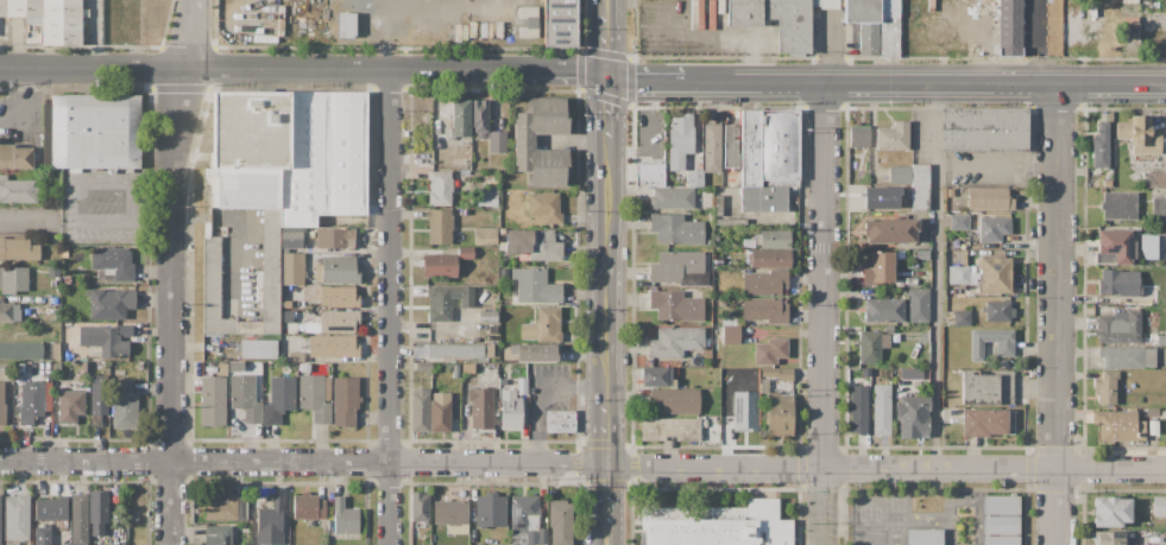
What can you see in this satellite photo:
road: (610, 5)
building: (830, 5)
road: (395, 6)
building: (720, 6)
building: (945, 7)
building: (2, 8)
building: (24, 8)
building: (711, 13)
building: (697, 14)
building: (527, 21)
building: (61, 23)
building: (864, 23)
building: (559, 24)
building: (346, 26)
building: (996, 26)
building: (397, 28)
building: (889, 28)
building: (793, 39)
road: (610, 43)
road: (264, 70)
road: (569, 71)
road: (649, 82)
road: (926, 82)
road: (29, 103)
road: (610, 110)
building: (479, 116)
building: (460, 118)
building: (983, 129)
building: (92, 131)
road: (645, 134)
building: (893, 137)
building: (1140, 137)
building: (859, 138)
building: (680, 139)
building: (496, 141)
building: (543, 141)
building: (1099, 146)
building: (711, 147)
building: (769, 147)
building: (729, 148)
building: (288, 153)
building: (14, 157)
road: (995, 163)
building: (649, 175)
building: (861, 176)
building: (694, 178)
building: (1155, 179)
building: (914, 183)
building: (1107, 183)
building: (440, 188)
building: (17, 190)
building: (724, 191)
building: (950, 192)
building: (881, 197)
building: (490, 198)
building: (672, 198)
building: (989, 199)
road: (78, 201)
building: (1118, 205)
building: (544, 207)
building: (1159, 207)
building: (737, 214)
building: (959, 222)
road: (240, 226)
building: (439, 226)
building: (992, 228)
building: (676, 229)
building: (891, 230)
building: (485, 236)
building: (290, 237)
building: (335, 237)
building: (716, 239)
building: (55, 240)
building: (774, 240)
building: (707, 242)
building: (748, 243)
building: (534, 245)
building: (1115, 247)
building: (18, 249)
building: (1152, 252)
building: (465, 253)
building: (924, 254)
building: (770, 258)
building: (113, 262)
building: (439, 265)
building: (679, 267)
building: (292, 268)
building: (878, 268)
building: (53, 271)
road: (170, 271)
building: (336, 271)
road: (609, 271)
building: (502, 272)
building: (960, 274)
building: (994, 274)
road: (935, 275)
building: (267, 277)
building: (13, 279)
building: (764, 283)
building: (1118, 283)
building: (535, 286)
building: (213, 289)
building: (339, 297)
building: (446, 300)
building: (111, 304)
building: (675, 305)
building: (918, 305)
road: (387, 306)
building: (764, 310)
building: (882, 310)
building: (997, 311)
building: (11, 312)
road: (825, 312)
road: (1055, 313)
building: (486, 317)
building: (962, 317)
building: (338, 321)
building: (542, 325)
building: (1118, 328)
building: (731, 334)
building: (1148, 338)
building: (105, 340)
building: (1161, 340)
building: (675, 342)
building: (333, 347)
building: (869, 347)
building: (257, 348)
building: (20, 350)
building: (455, 350)
building: (489, 350)
building: (1003, 350)
building: (55, 351)
building: (770, 351)
building: (537, 353)
building: (1127, 356)
building: (296, 357)
building: (426, 367)
building: (456, 370)
building: (777, 373)
building: (910, 373)
building: (656, 376)
building: (758, 384)
building: (522, 386)
building: (1105, 387)
building: (987, 388)
building: (245, 397)
building: (316, 397)
building: (96, 398)
building: (279, 399)
building: (71, 400)
building: (345, 400)
building: (675, 400)
building: (31, 401)
building: (212, 401)
building: (2, 403)
building: (124, 405)
building: (480, 408)
building: (858, 408)
building: (881, 408)
building: (420, 410)
building: (510, 410)
building: (742, 411)
building: (440, 412)
building: (780, 414)
building: (913, 417)
building: (559, 422)
building: (987, 422)
building: (1118, 426)
building: (672, 429)
road: (609, 431)
road: (582, 464)
road: (607, 498)
building: (1159, 506)
building: (226, 507)
building: (308, 507)
building: (420, 507)
building: (51, 508)
building: (490, 509)
building: (1110, 511)
building: (97, 512)
building: (450, 512)
building: (523, 513)
building: (18, 518)
building: (345, 518)
building: (78, 520)
building: (1000, 520)
building: (561, 521)
building: (309, 522)
building: (270, 524)
building: (455, 528)
building: (724, 528)
building: (42, 534)
building: (218, 536)
building: (542, 536)
building: (925, 537)
road: (607, 538)
building: (1118, 538)

